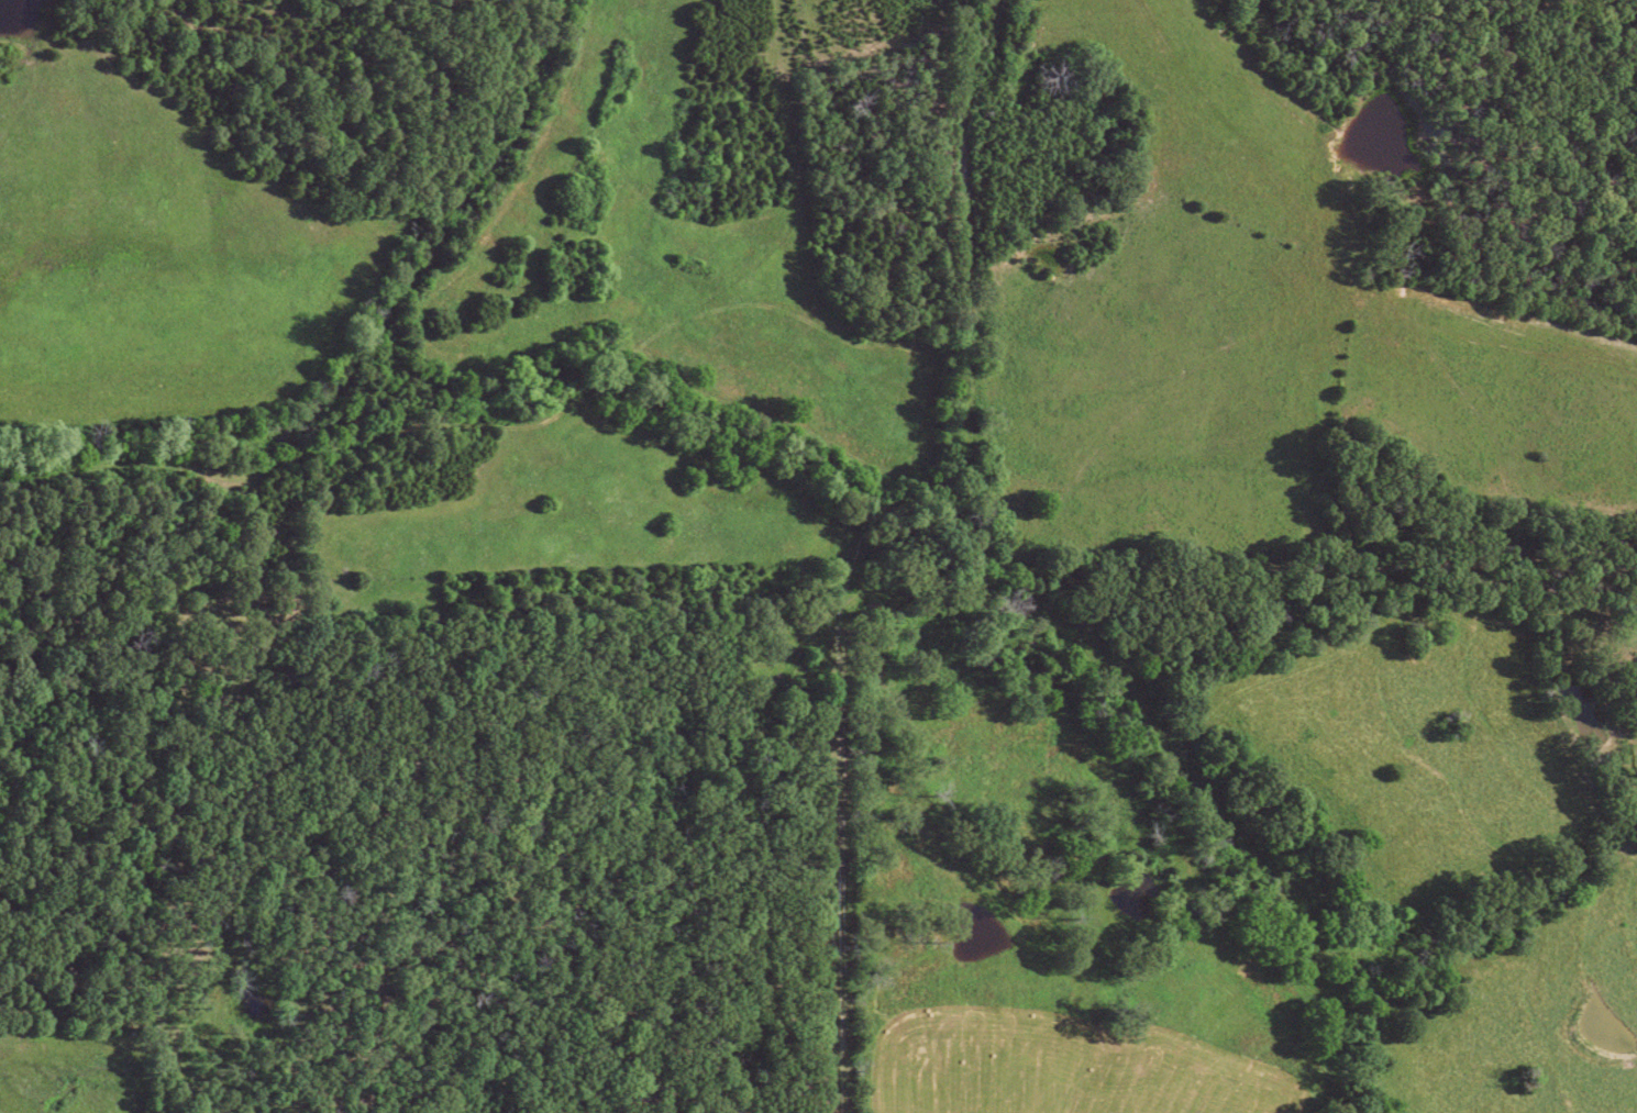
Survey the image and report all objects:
road: (975, 359)
road: (840, 850)

